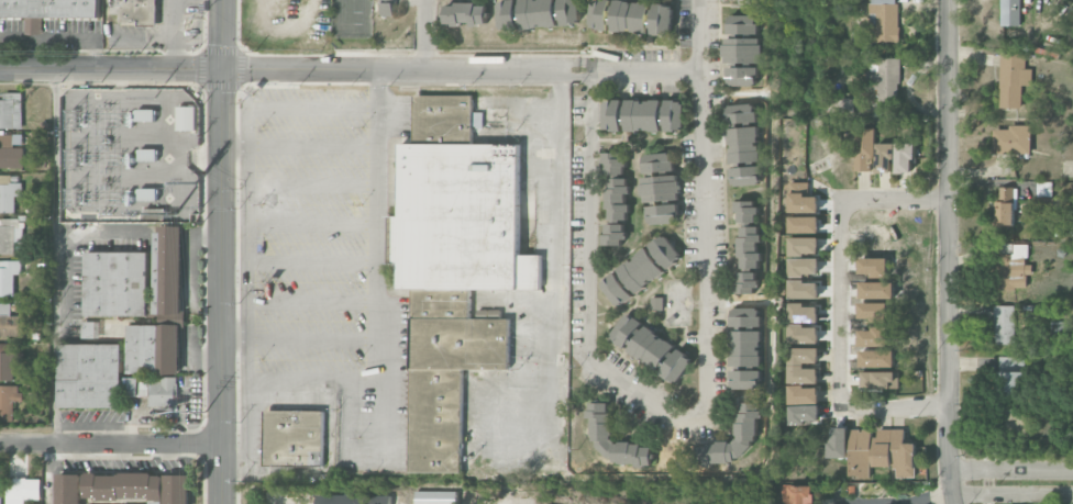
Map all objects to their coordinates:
building: (388, 8)
building: (47, 10)
building: (134, 11)
building: (1010, 12)
building: (540, 13)
building: (467, 14)
building: (632, 15)
building: (884, 21)
road: (172, 34)
road: (222, 34)
road: (697, 34)
road: (422, 35)
road: (59, 37)
building: (743, 49)
road: (110, 69)
traffic signals: (222, 69)
road: (406, 70)
building: (885, 77)
road: (118, 78)
building: (1013, 79)
power tower: (154, 98)
building: (11, 111)
building: (741, 113)
building: (145, 114)
building: (613, 115)
building: (655, 115)
building: (187, 119)
building: (1013, 139)
building: (744, 144)
road: (299, 148)
building: (863, 148)
building: (10, 154)
power substation: (129, 155)
building: (905, 157)
road: (206, 158)
building: (884, 158)
building: (659, 161)
building: (746, 176)
building: (144, 179)
power tower: (197, 181)
building: (616, 187)
building: (661, 188)
building: (8, 193)
road: (54, 195)
building: (1005, 206)
building: (748, 211)
building: (155, 213)
building: (663, 214)
building: (10, 234)
building: (613, 234)
road: (555, 246)
building: (804, 246)
building: (750, 247)
road: (948, 251)
building: (455, 264)
road: (380, 266)
building: (804, 267)
building: (1014, 268)
building: (640, 270)
building: (9, 276)
building: (748, 282)
building: (118, 283)
road: (222, 287)
building: (803, 289)
road: (839, 303)
building: (162, 311)
building: (746, 316)
building: (10, 322)
building: (1004, 324)
building: (1059, 328)
building: (89, 329)
building: (628, 331)
road: (302, 337)
building: (746, 348)
building: (662, 355)
building: (9, 361)
building: (803, 365)
building: (90, 376)
building: (1010, 376)
building: (746, 379)
building: (878, 380)
road: (626, 382)
building: (157, 391)
building: (804, 394)
building: (8, 401)
power tower: (204, 412)
building: (748, 422)
building: (601, 423)
building: (294, 437)
road: (111, 445)
building: (881, 452)
road: (1010, 470)
road: (49, 474)
building: (139, 486)
building: (68, 489)
building: (23, 490)
building: (0, 493)
building: (797, 494)
road: (839, 495)
building: (353, 499)
road: (932, 499)
road: (466, 500)

